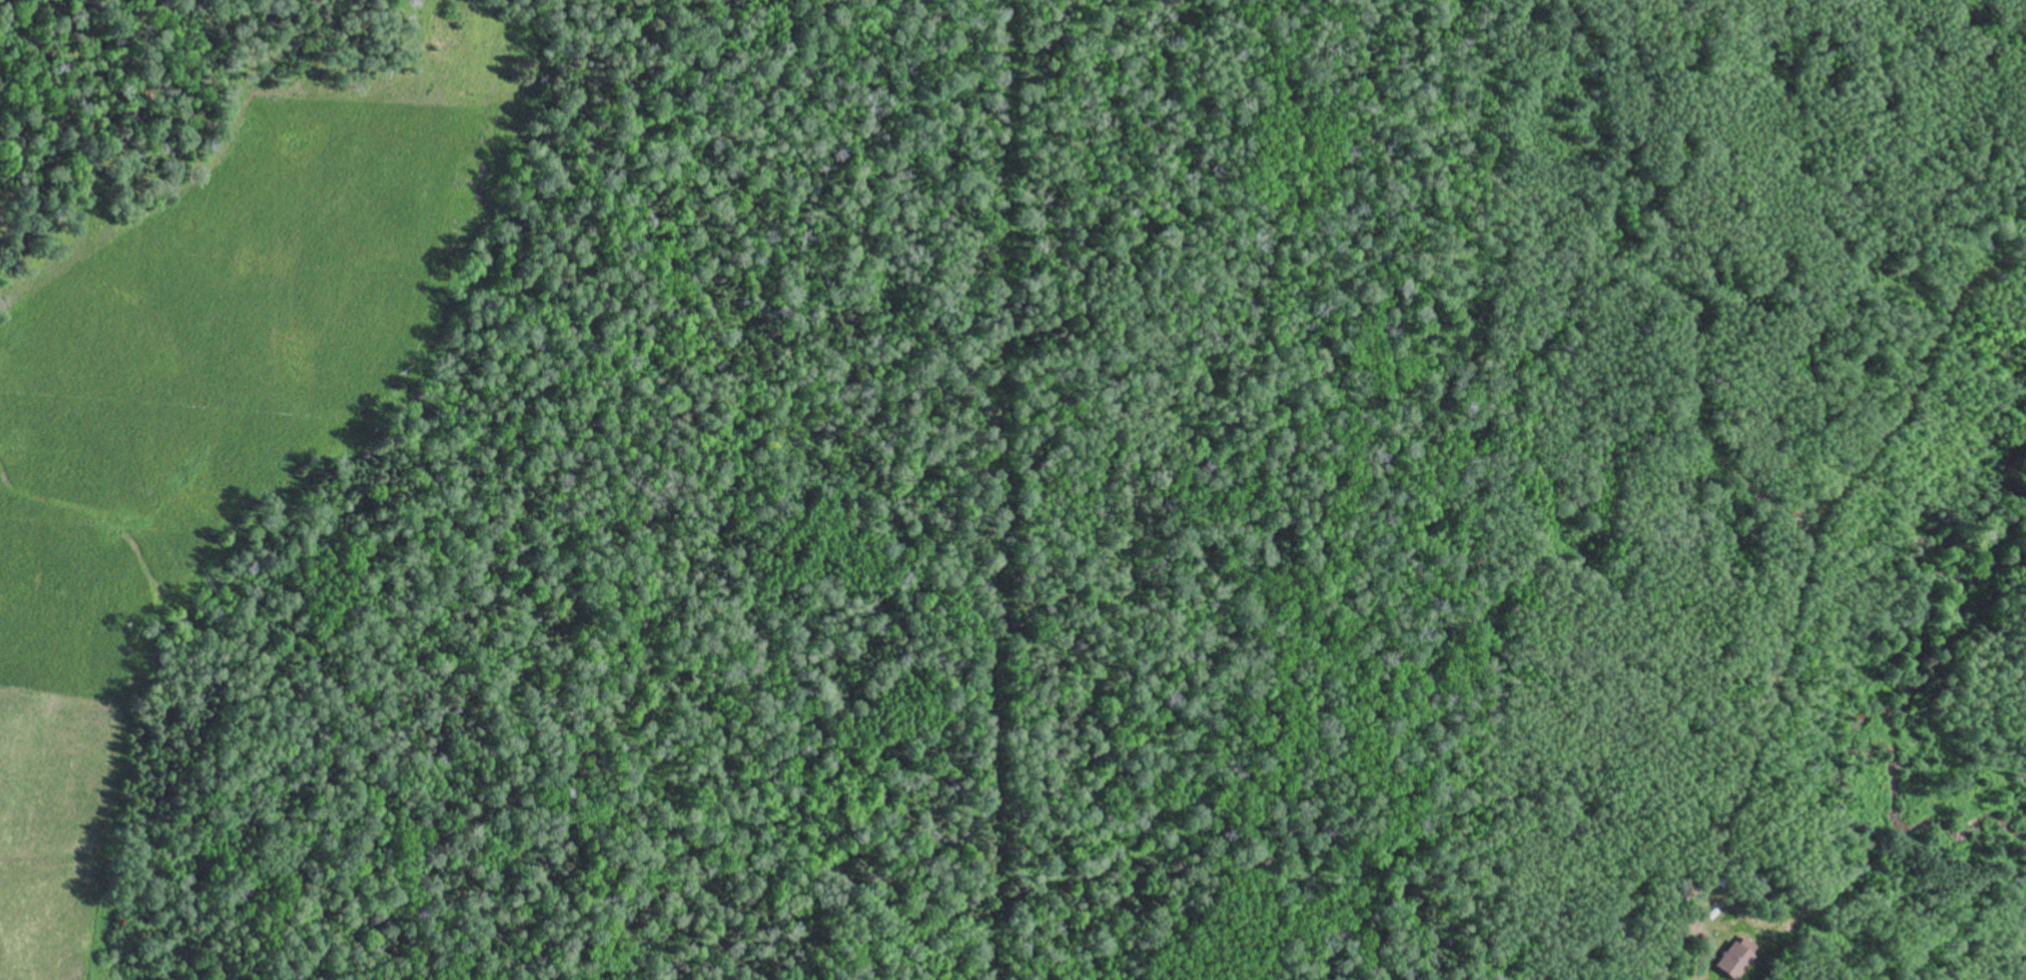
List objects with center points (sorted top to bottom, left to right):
building: (1714, 908)
building: (1736, 955)

